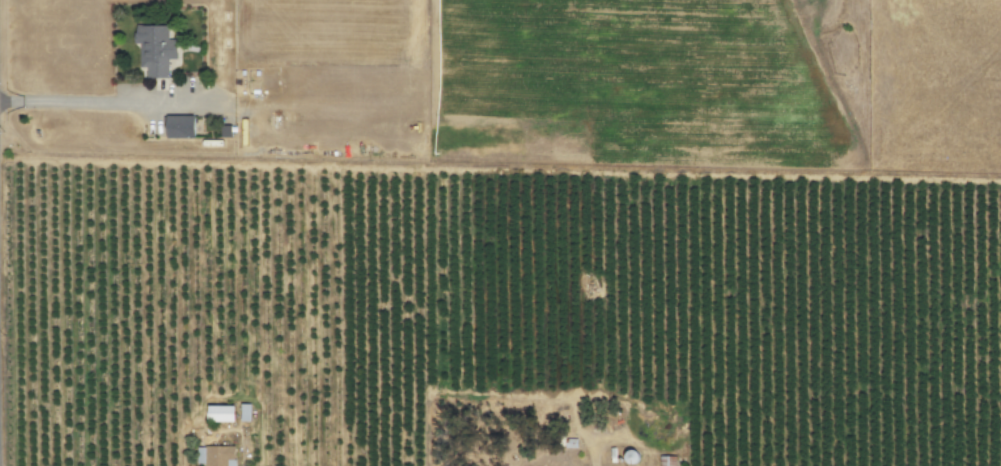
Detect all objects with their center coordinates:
building: (154, 49)
building: (179, 126)
building: (244, 412)
building: (220, 414)
building: (214, 456)
building: (666, 461)

